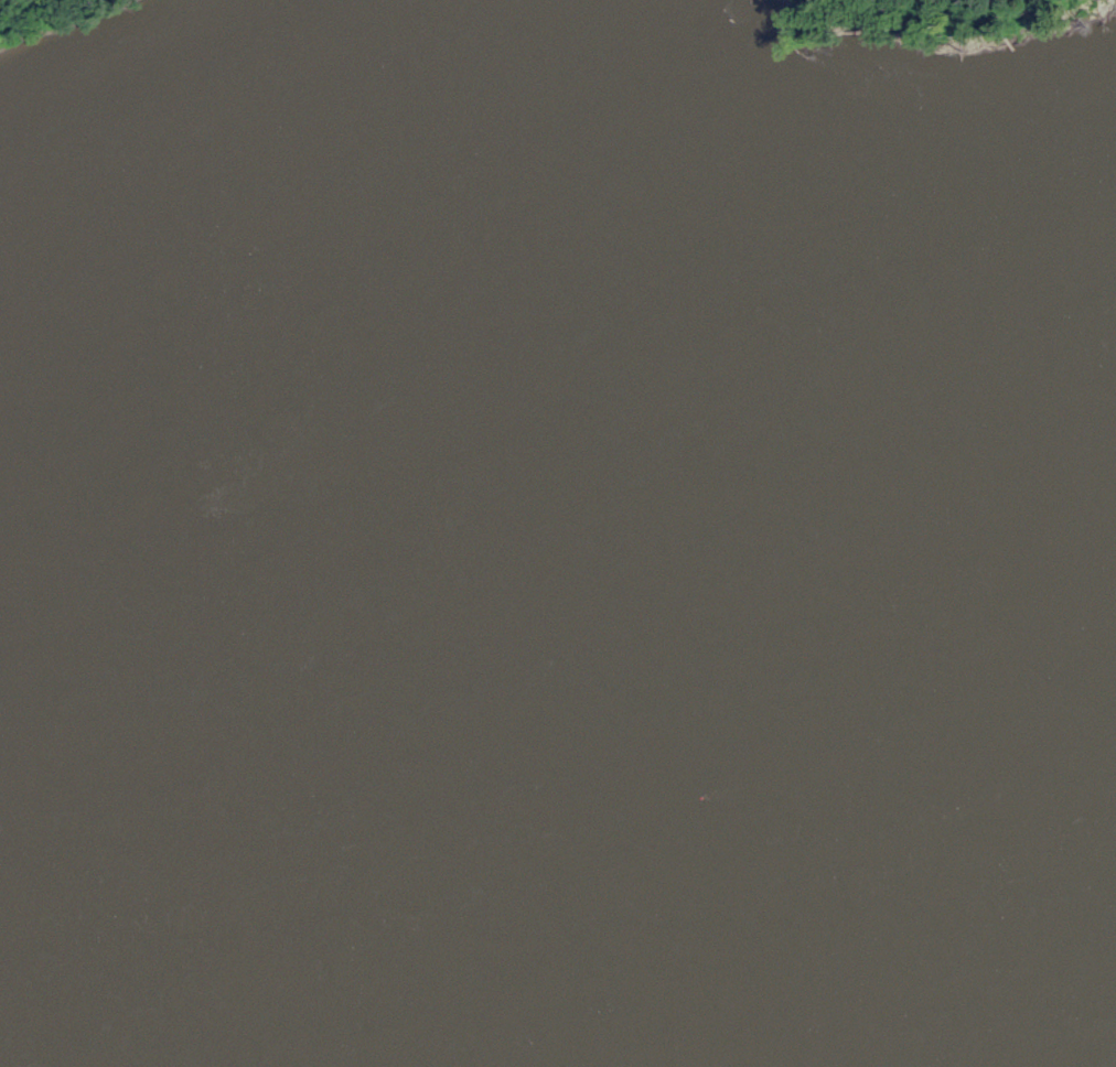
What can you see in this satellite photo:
river: (558, 776)

